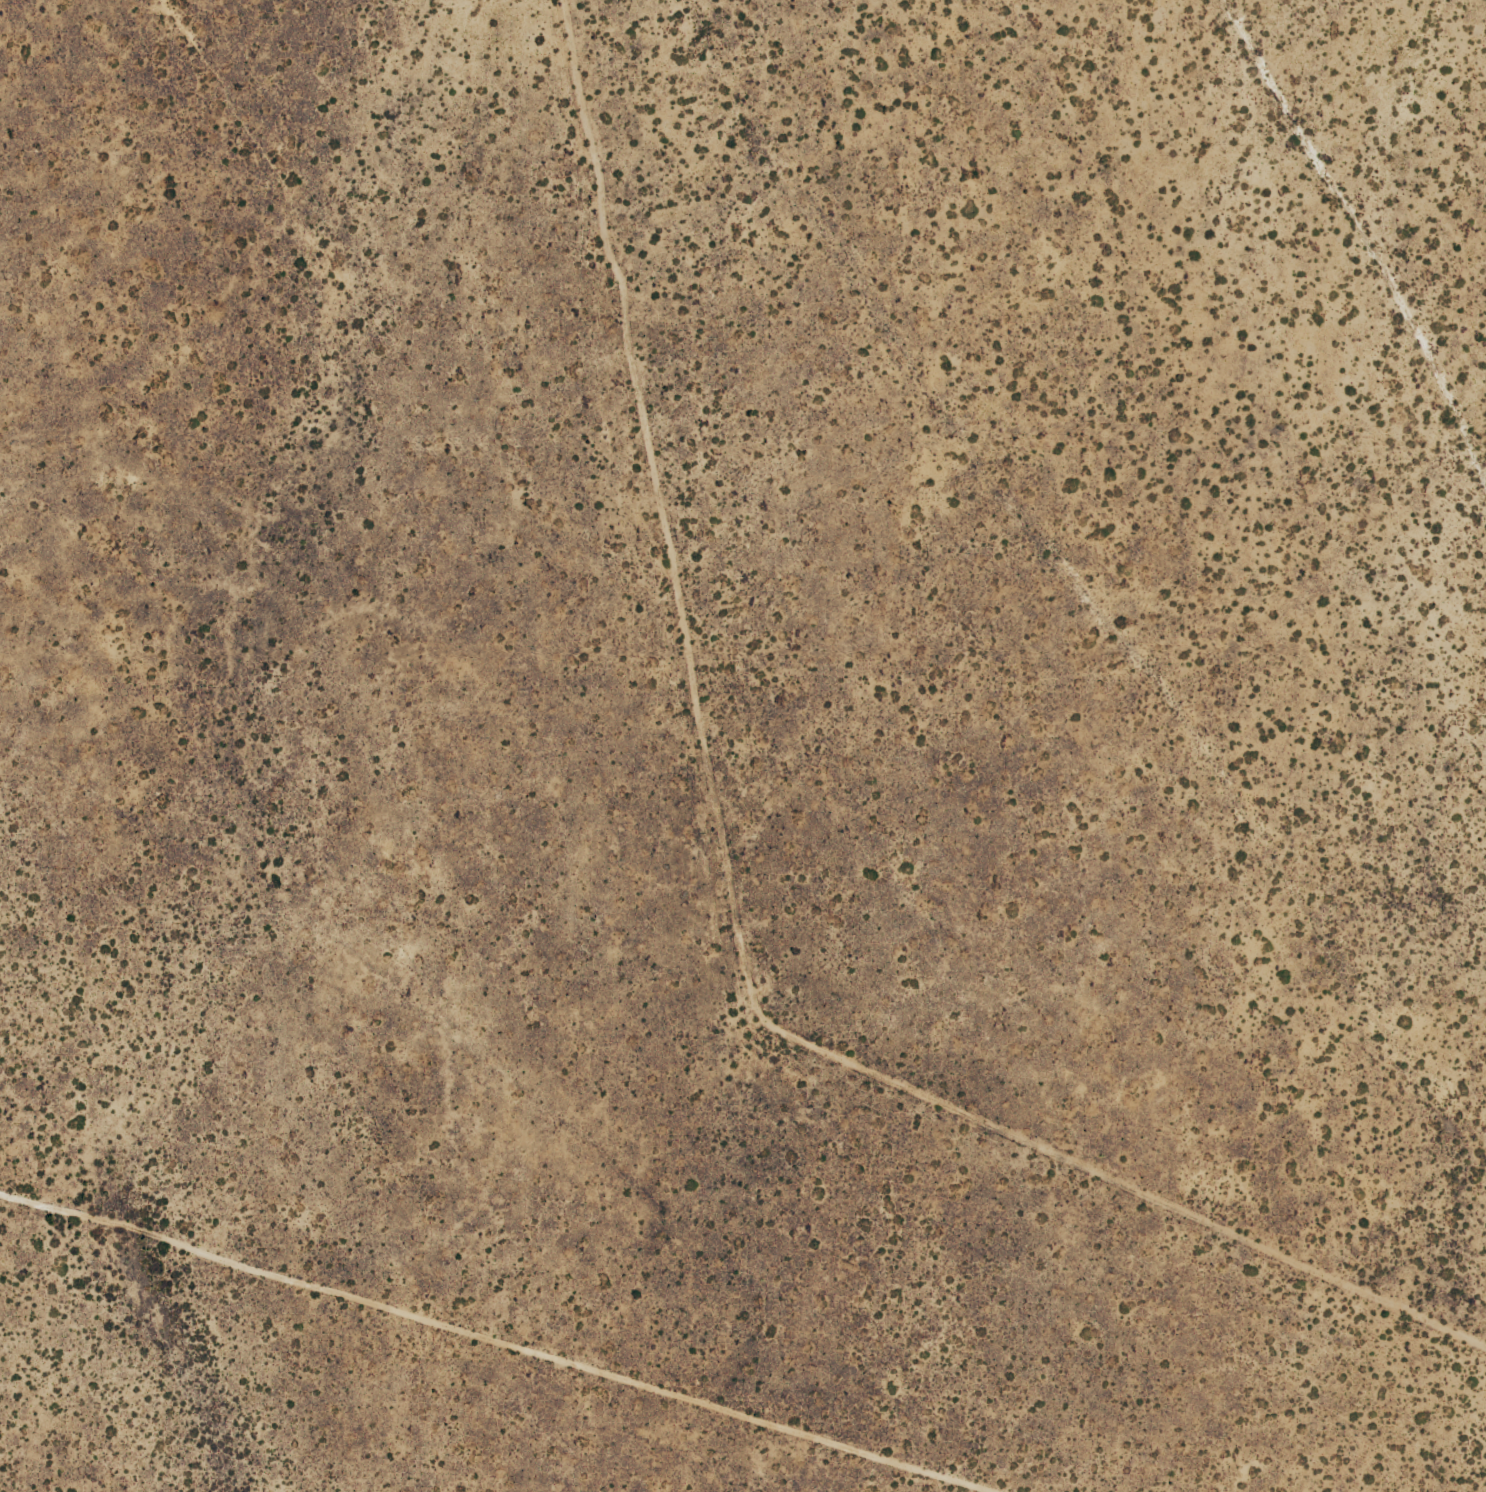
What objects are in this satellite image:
road: (519, 1336)

